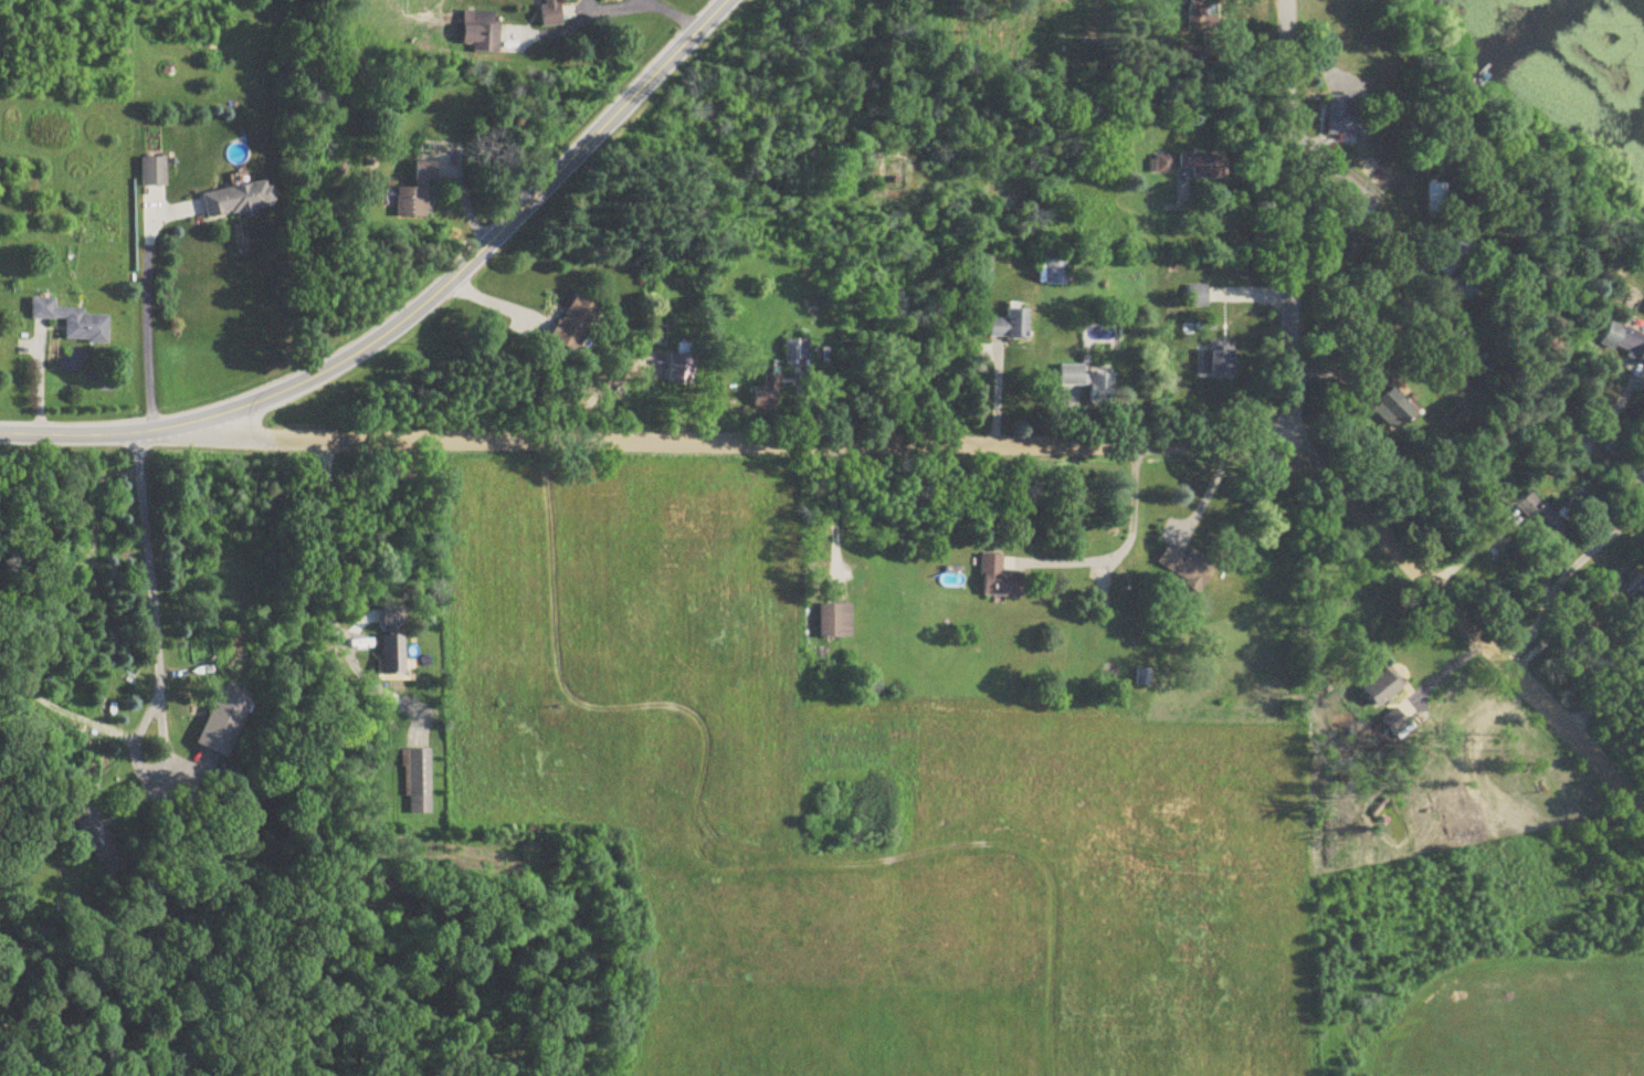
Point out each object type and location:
road: (641, 8)
building: (551, 12)
building: (1200, 14)
building: (481, 31)
building: (1348, 115)
building: (1163, 165)
building: (1204, 165)
building: (154, 172)
building: (417, 196)
building: (238, 200)
building: (1437, 201)
road: (1288, 224)
building: (1455, 260)
road: (466, 264)
building: (1056, 272)
road: (1438, 285)
building: (1466, 285)
building: (1198, 296)
road: (145, 313)
building: (72, 321)
building: (573, 325)
building: (1010, 325)
building: (1382, 339)
building: (1625, 341)
building: (797, 350)
building: (1218, 362)
building: (682, 369)
building: (1088, 383)
building: (767, 393)
building: (1394, 409)
road: (72, 431)
road: (973, 446)
building: (1540, 517)
road: (833, 518)
road: (1125, 539)
road: (325, 544)
building: (1188, 568)
building: (1000, 579)
road: (1563, 580)
road: (150, 600)
building: (834, 622)
building: (393, 657)
building: (1144, 678)
building: (1383, 688)
road: (1606, 692)
building: (1393, 721)
building: (223, 724)
building: (418, 782)
crop: (846, 805)
road: (1640, 809)
building: (95, 836)

